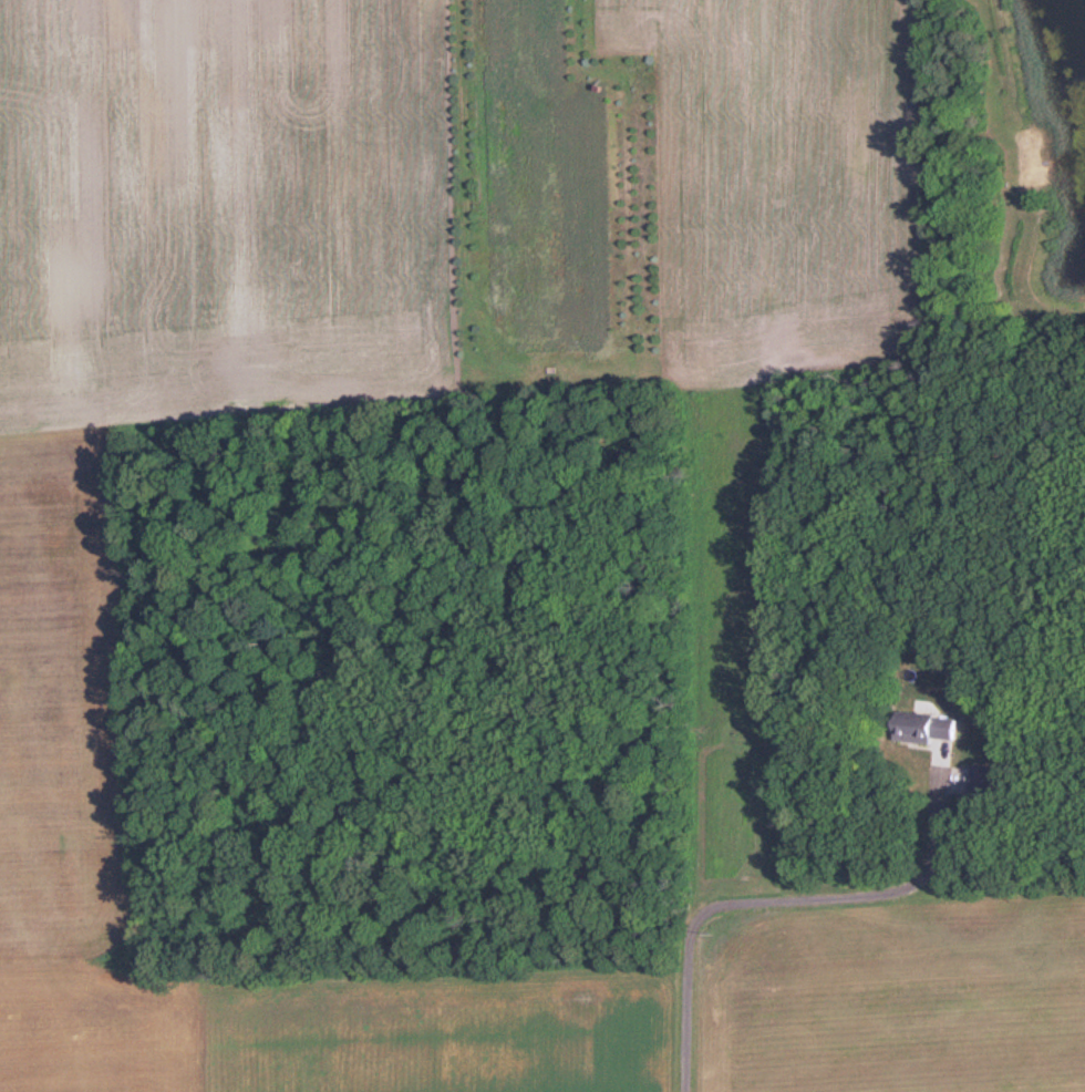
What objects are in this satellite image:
building: (926, 727)
road: (768, 896)

